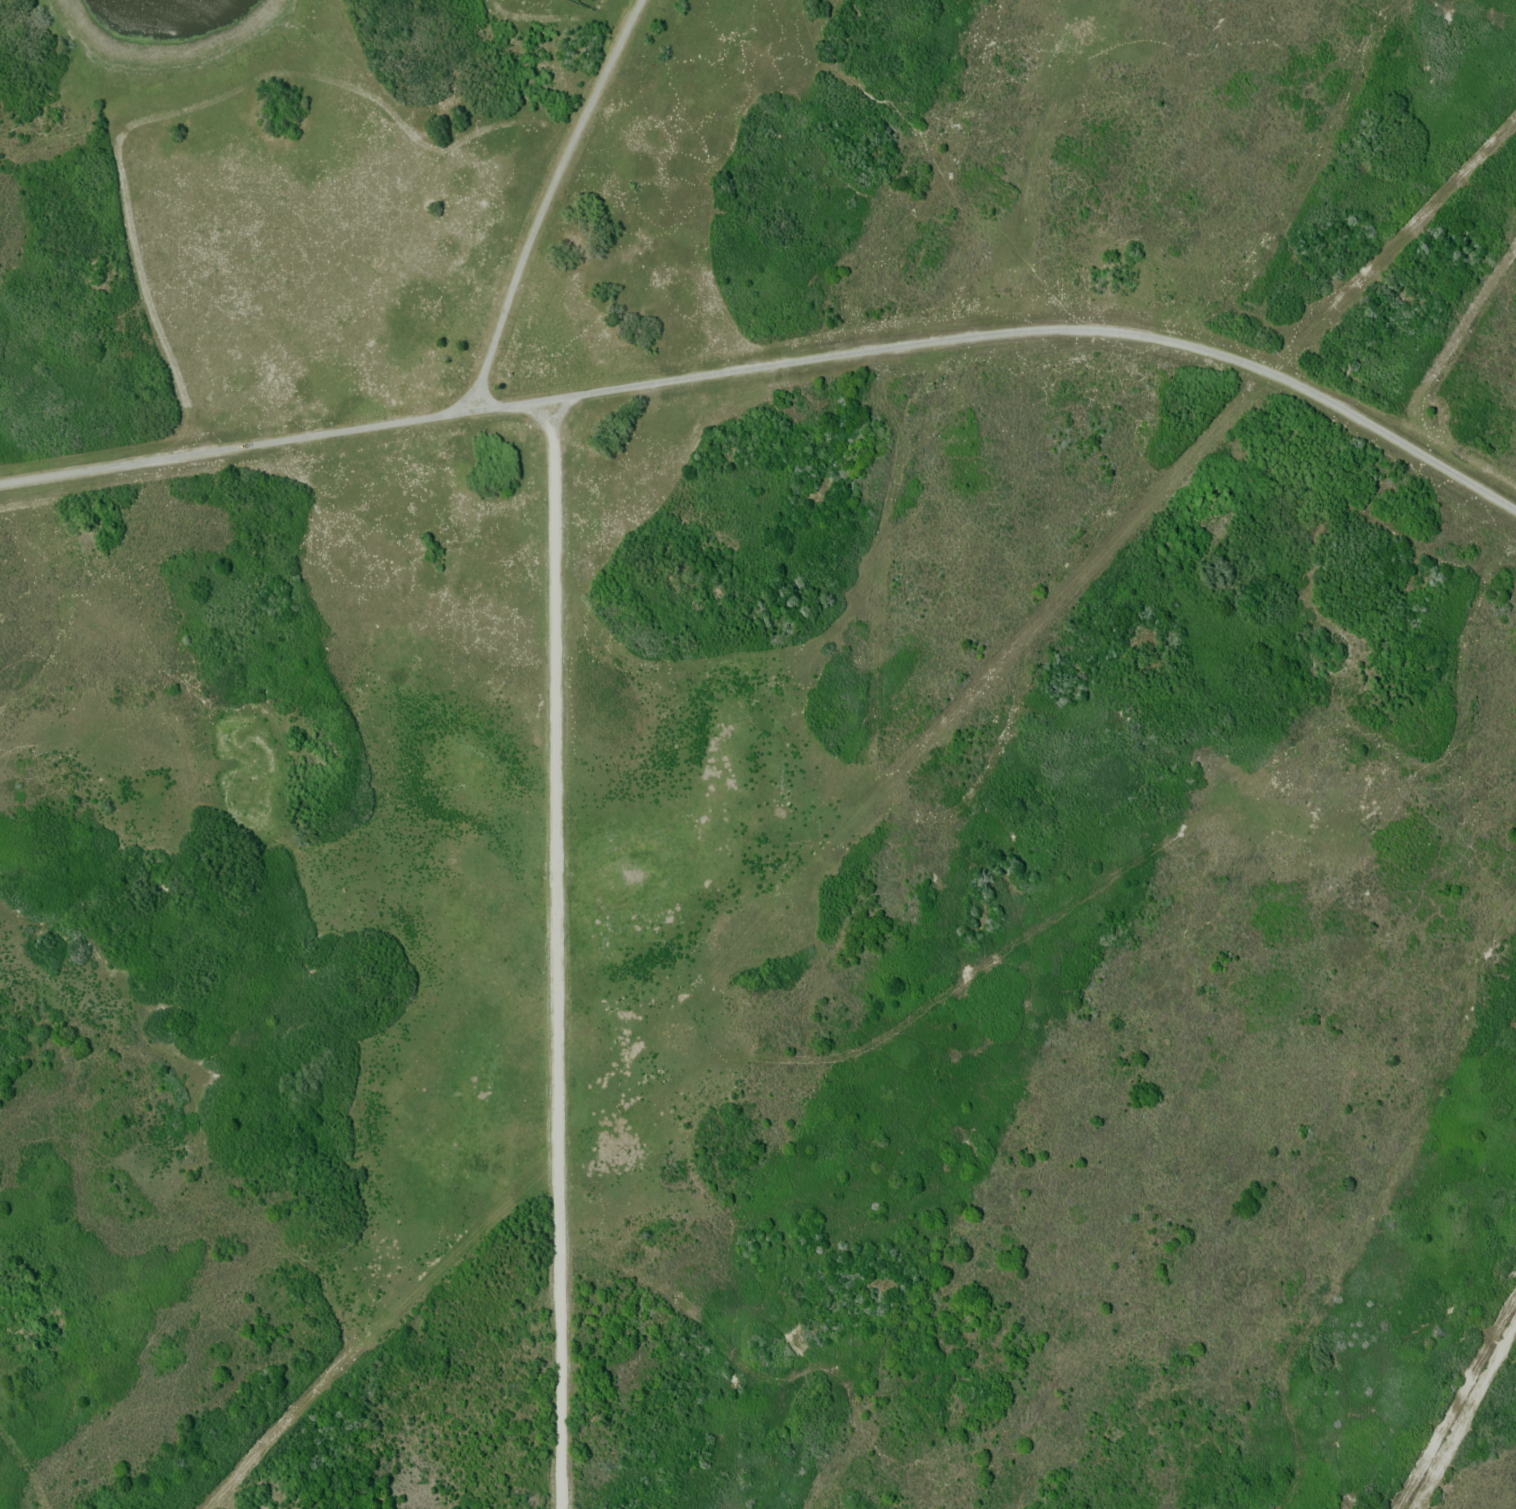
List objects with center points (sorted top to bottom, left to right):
road: (547, 201)
road: (770, 371)
road: (555, 955)

